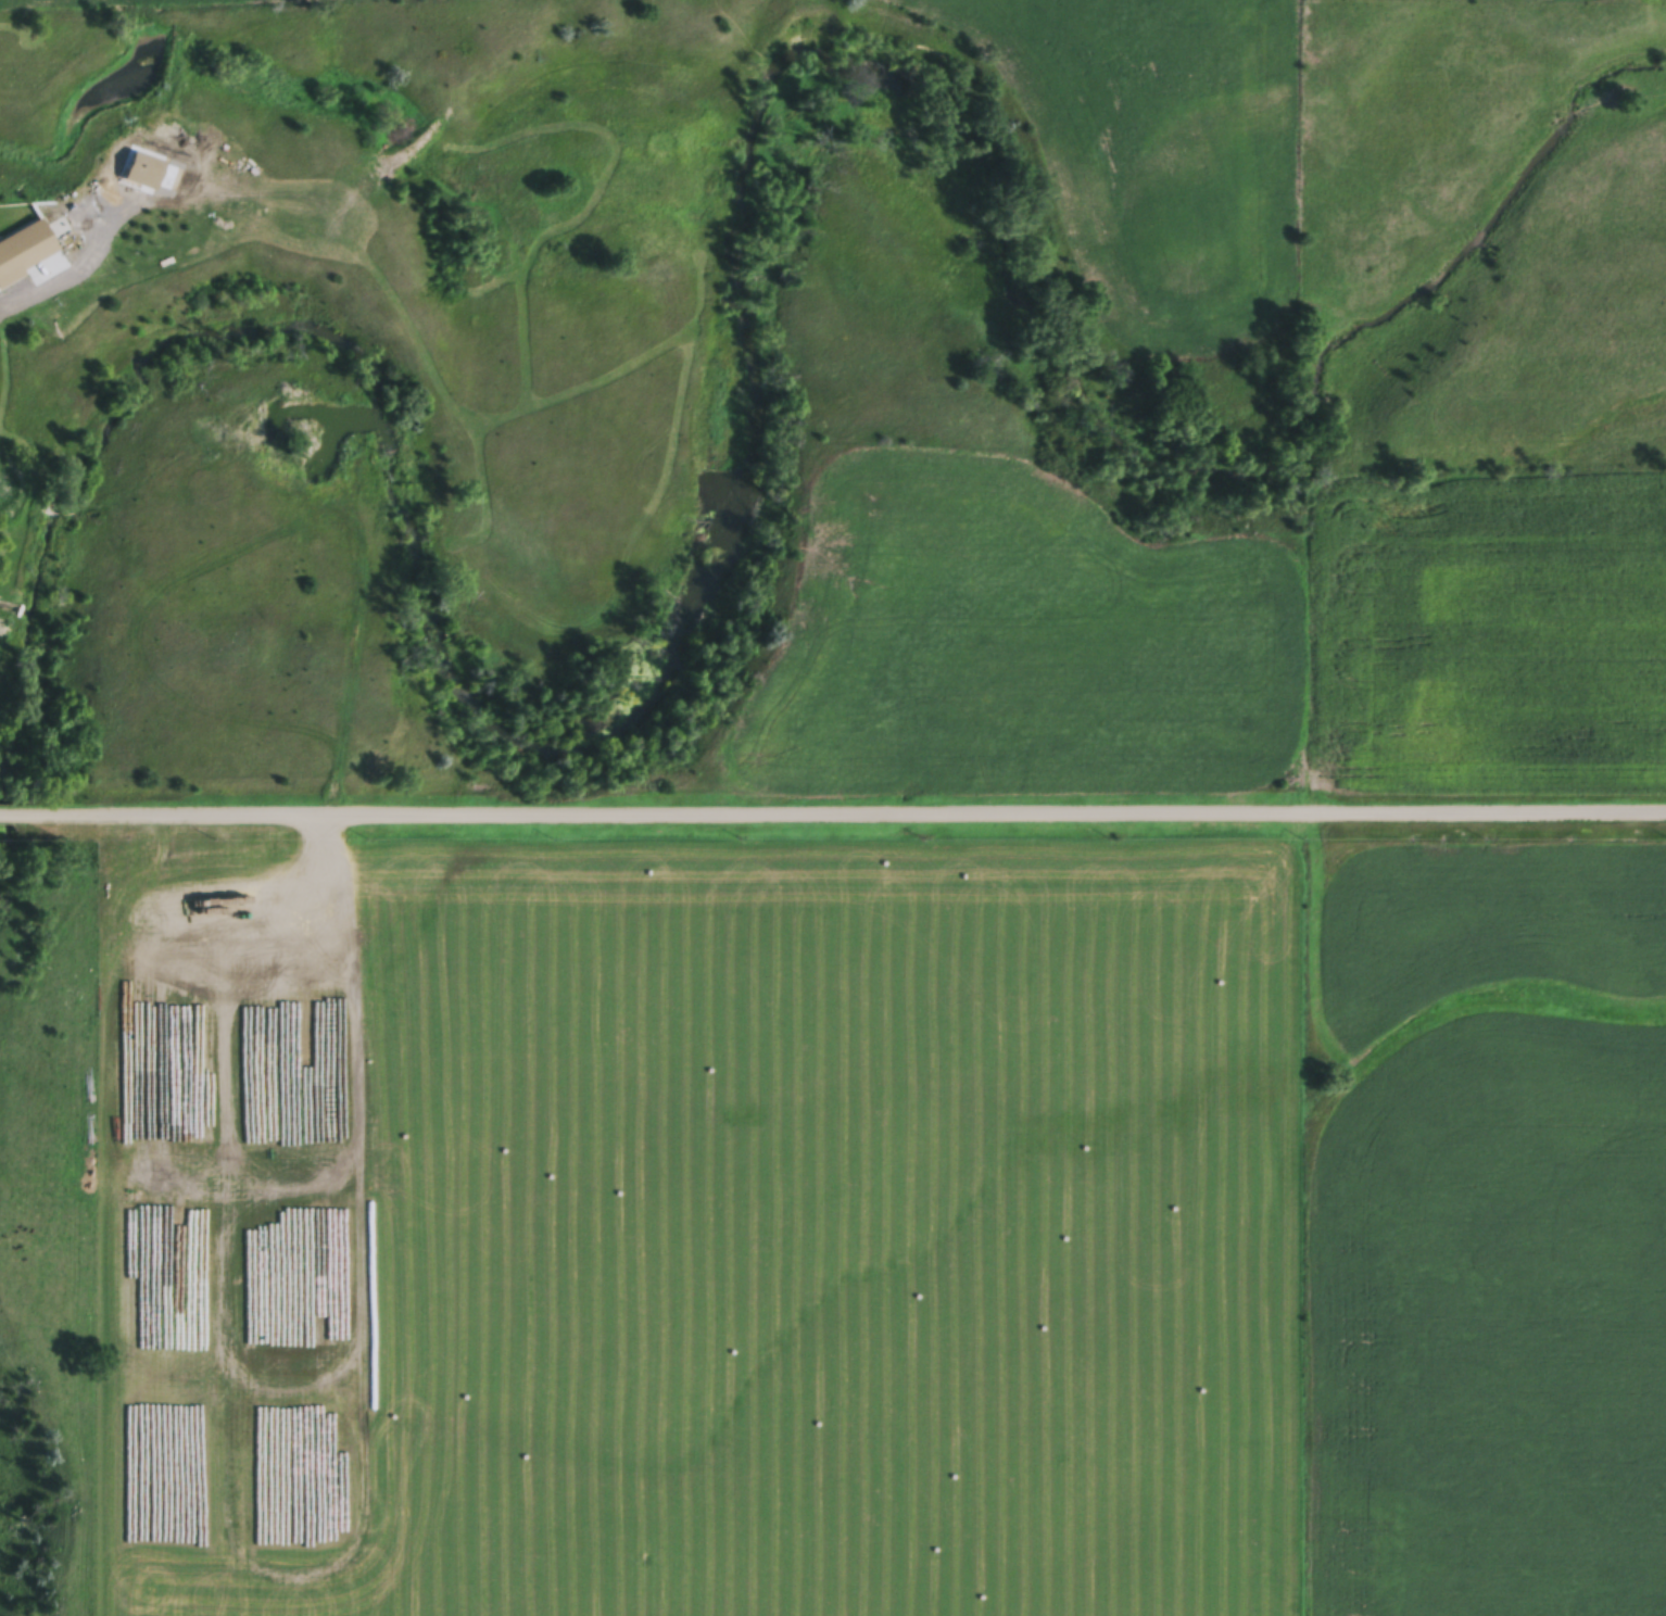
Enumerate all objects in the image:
road: (833, 807)

